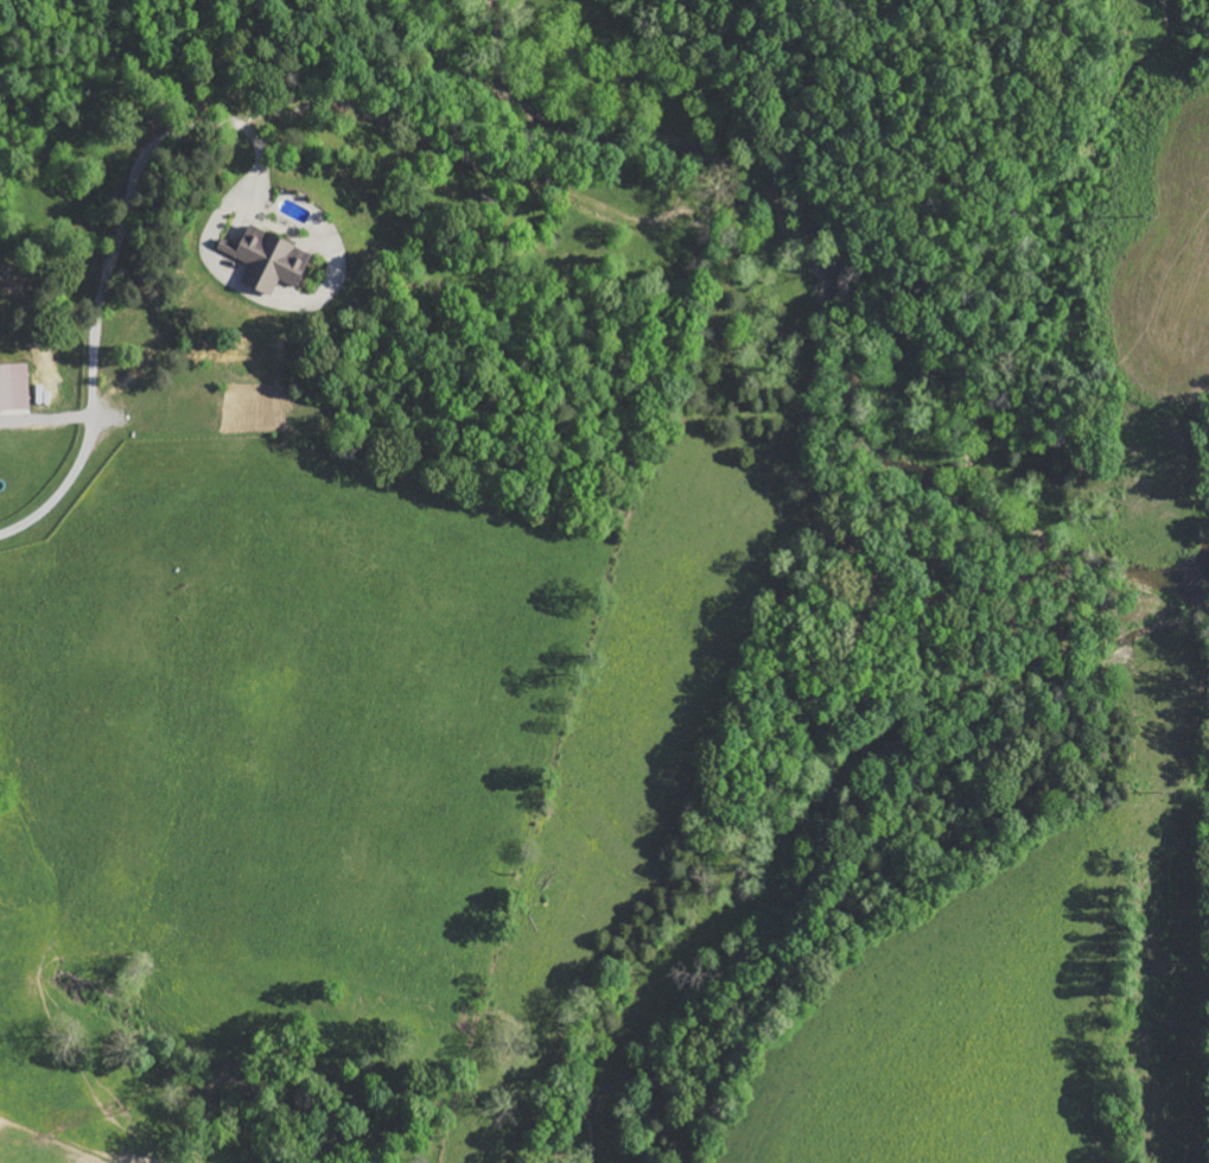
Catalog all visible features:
building: (271, 261)
building: (14, 387)

